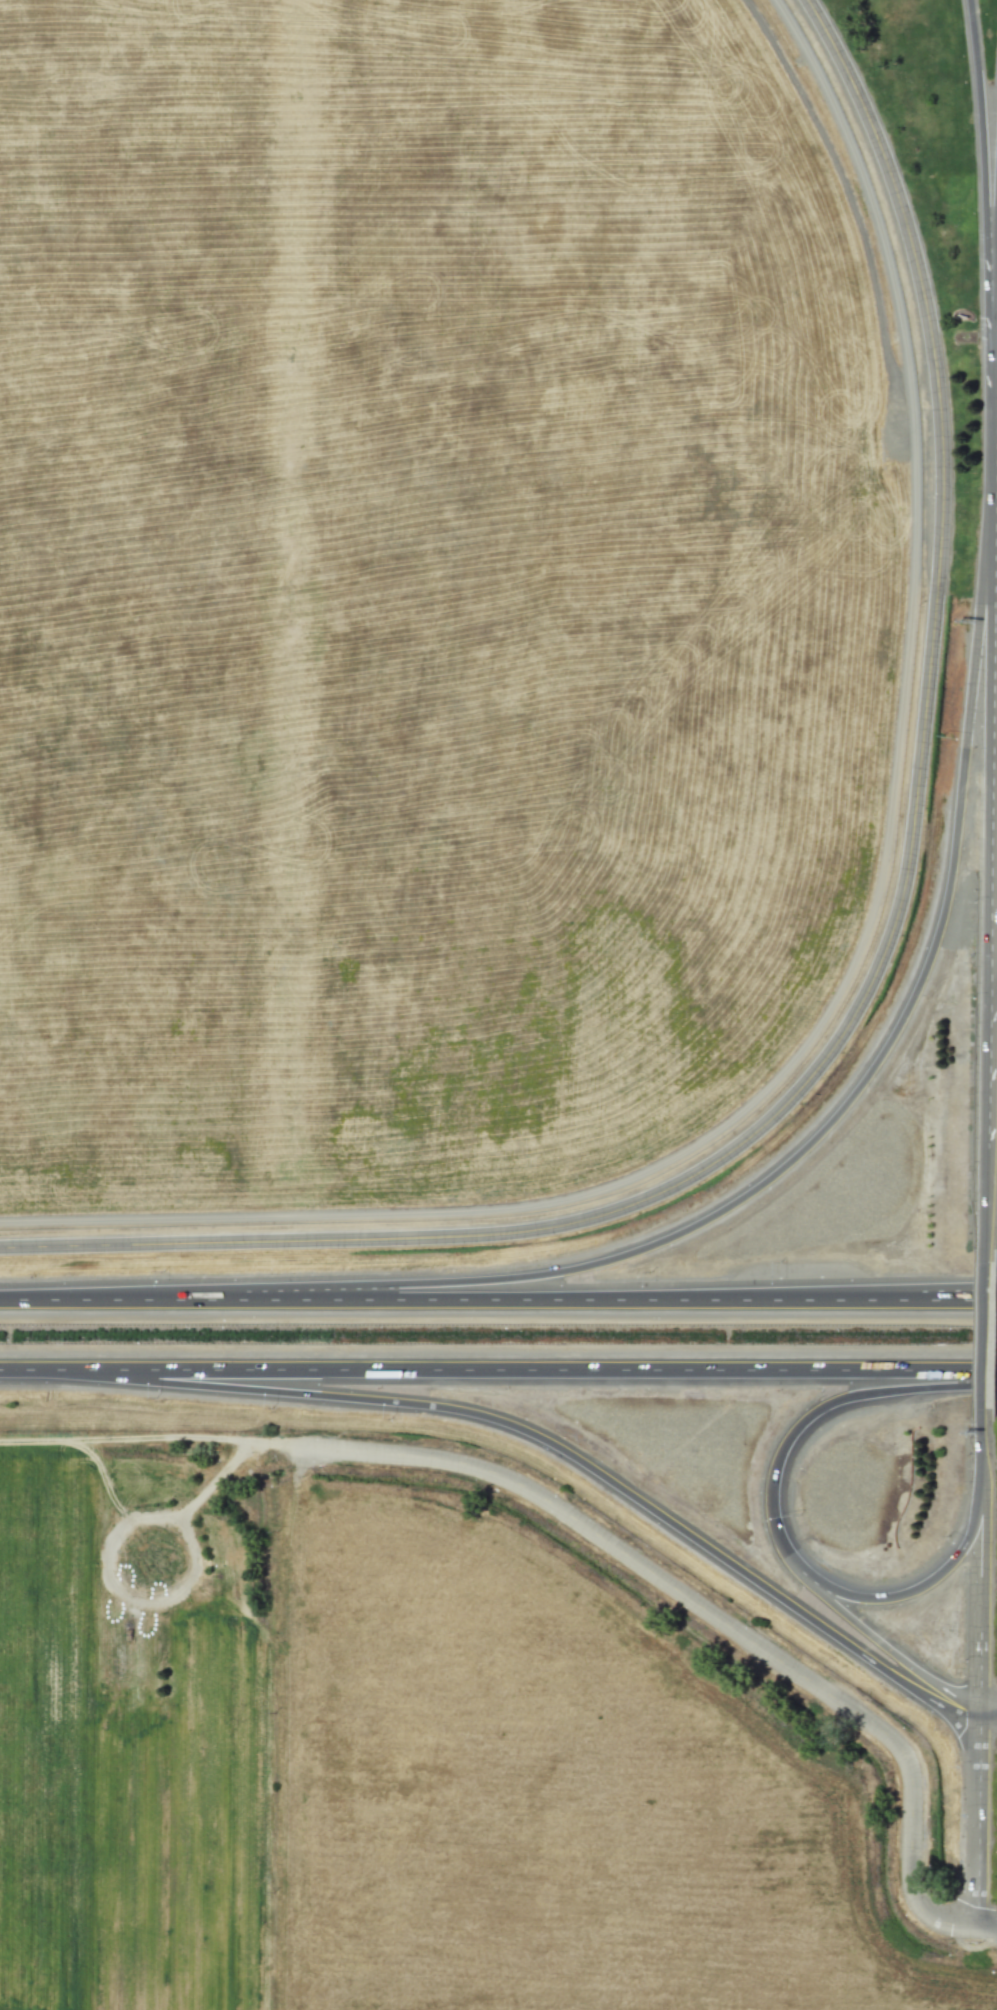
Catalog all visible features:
road: (858, 104)
road: (979, 131)
road: (994, 396)
airport: (499, 622)
road: (992, 806)
road: (909, 869)
road: (993, 957)
road: (841, 1111)
road: (986, 1185)
road: (215, 1243)
road: (958, 1296)
road: (121, 1300)
road: (581, 1301)
road: (958, 1301)
road: (983, 1335)
road: (30, 1369)
road: (528, 1372)
road: (556, 1449)
road: (981, 1451)
road: (776, 1525)
road: (980, 1532)
road: (718, 1617)
road: (979, 1643)
road: (883, 1648)
road: (988, 1703)
road: (979, 1713)
road: (988, 1723)
crop: (129, 1777)
crop: (546, 1798)
road: (977, 1826)

